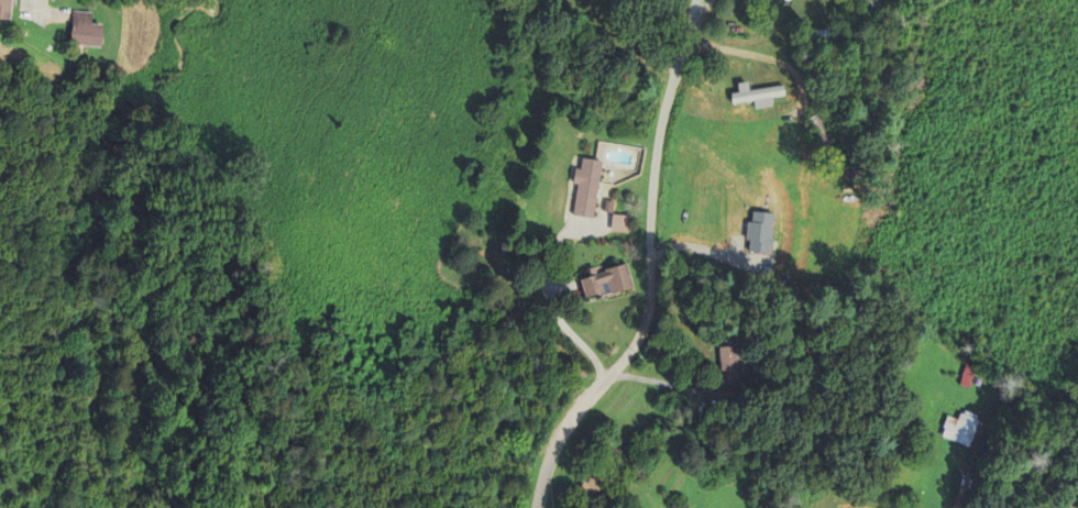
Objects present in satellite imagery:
building: (618, 2)
road: (698, 4)
building: (868, 4)
road: (40, 5)
building: (7, 10)
building: (88, 32)
building: (848, 33)
building: (818, 34)
building: (755, 93)
building: (705, 108)
building: (823, 136)
building: (838, 180)
building: (584, 188)
building: (607, 206)
building: (618, 223)
building: (752, 224)
road: (649, 265)
building: (606, 281)
building: (727, 365)
building: (966, 374)
building: (772, 400)
building: (961, 428)
building: (593, 487)
road: (964, 492)
building: (914, 504)

